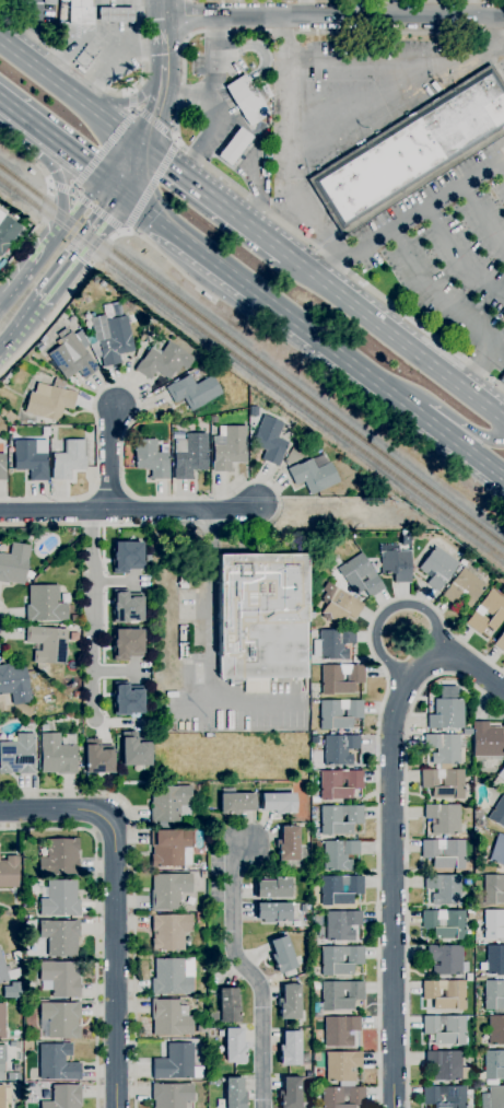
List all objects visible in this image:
building: (48, 1)
building: (80, 12)
gas station: (80, 12)
building: (115, 14)
road: (331, 16)
road: (94, 20)
road: (138, 23)
road: (33, 27)
road: (162, 30)
road: (87, 32)
road: (30, 33)
road: (491, 33)
road: (152, 46)
road: (81, 59)
road: (118, 59)
road: (366, 61)
road: (89, 80)
road: (71, 82)
road: (114, 91)
road: (395, 94)
road: (139, 96)
road: (211, 97)
road: (132, 98)
road: (159, 98)
road: (185, 98)
building: (248, 98)
road: (335, 102)
road: (16, 114)
road: (156, 126)
road: (290, 128)
road: (176, 133)
traffic signals: (144, 135)
building: (234, 147)
gas station: (234, 147)
road: (65, 149)
road: (103, 150)
building: (412, 151)
road: (119, 153)
road: (134, 164)
road: (501, 166)
road: (56, 173)
traffic signals: (95, 173)
road: (45, 176)
road: (109, 183)
road: (59, 187)
road: (153, 187)
road: (216, 191)
traffic signals: (125, 194)
road: (78, 199)
road: (98, 211)
road: (481, 214)
road: (409, 217)
road: (105, 220)
road: (317, 225)
building: (7, 232)
road: (31, 234)
parking lot: (447, 249)
road: (166, 257)
road: (458, 257)
road: (30, 263)
road: (63, 272)
road: (436, 292)
road: (59, 306)
road: (31, 315)
road: (397, 327)
building: (112, 334)
building: (142, 337)
road: (314, 338)
road: (9, 339)
railway: (250, 357)
building: (71, 358)
road: (487, 358)
building: (163, 361)
railway: (250, 369)
building: (7, 378)
building: (502, 380)
building: (192, 390)
building: (49, 400)
road: (436, 406)
building: (9, 417)
building: (213, 420)
building: (177, 435)
building: (269, 441)
building: (227, 447)
building: (189, 455)
road: (110, 456)
building: (31, 458)
building: (68, 459)
building: (151, 459)
building: (2, 467)
building: (313, 476)
road: (148, 498)
road: (128, 511)
building: (125, 556)
building: (13, 563)
building: (396, 565)
building: (437, 568)
building: (30, 575)
building: (360, 575)
road: (116, 581)
building: (464, 587)
road: (209, 603)
building: (45, 604)
building: (341, 607)
building: (126, 608)
road: (392, 608)
building: (487, 613)
road: (93, 615)
building: (312, 616)
building: (73, 618)
building: (261, 619)
road: (9, 622)
building: (312, 628)
building: (500, 642)
building: (125, 643)
building: (335, 643)
building: (47, 644)
road: (468, 665)
road: (116, 670)
building: (340, 678)
building: (14, 683)
road: (401, 691)
building: (127, 701)
building: (338, 713)
building: (446, 714)
building: (30, 721)
building: (44, 727)
building: (485, 743)
building: (339, 749)
building: (443, 749)
building: (136, 751)
building: (17, 755)
building: (57, 756)
building: (97, 758)
building: (501, 773)
road: (376, 774)
building: (443, 783)
building: (339, 784)
building: (199, 792)
building: (234, 802)
building: (278, 803)
building: (168, 804)
building: (497, 812)
building: (443, 818)
building: (339, 819)
building: (478, 823)
road: (391, 833)
building: (288, 843)
road: (407, 847)
building: (169, 848)
building: (497, 850)
building: (444, 853)
building: (339, 854)
building: (59, 859)
building: (9, 872)
building: (274, 888)
road: (133, 889)
building: (339, 889)
building: (443, 889)
building: (493, 889)
building: (168, 890)
building: (465, 895)
building: (58, 899)
road: (115, 908)
building: (272, 912)
building: (470, 914)
building: (198, 917)
road: (95, 922)
building: (444, 923)
building: (339, 925)
building: (493, 925)
building: (169, 932)
building: (59, 936)
building: (281, 955)
building: (339, 959)
building: (445, 959)
building: (494, 959)
building: (2, 972)
road: (250, 972)
building: (468, 977)
building: (59, 978)
building: (169, 978)
building: (479, 978)
building: (31, 985)
building: (445, 994)
building: (337, 996)
building: (493, 996)
building: (289, 1002)
building: (226, 1007)
building: (169, 1017)
building: (60, 1019)
building: (2, 1020)
building: (200, 1029)
building: (444, 1029)
building: (339, 1030)
building: (495, 1030)
building: (221, 1034)
building: (12, 1043)
building: (234, 1045)
building: (291, 1050)
building: (316, 1055)
building: (2, 1061)
building: (57, 1062)
building: (176, 1063)
building: (446, 1065)
building: (494, 1065)
building: (16, 1066)
building: (341, 1066)
building: (13, 1076)
building: (234, 1093)
building: (290, 1093)
building: (171, 1095)
building: (2, 1096)
building: (445, 1096)
building: (63, 1097)
building: (493, 1097)
building: (331, 1100)

